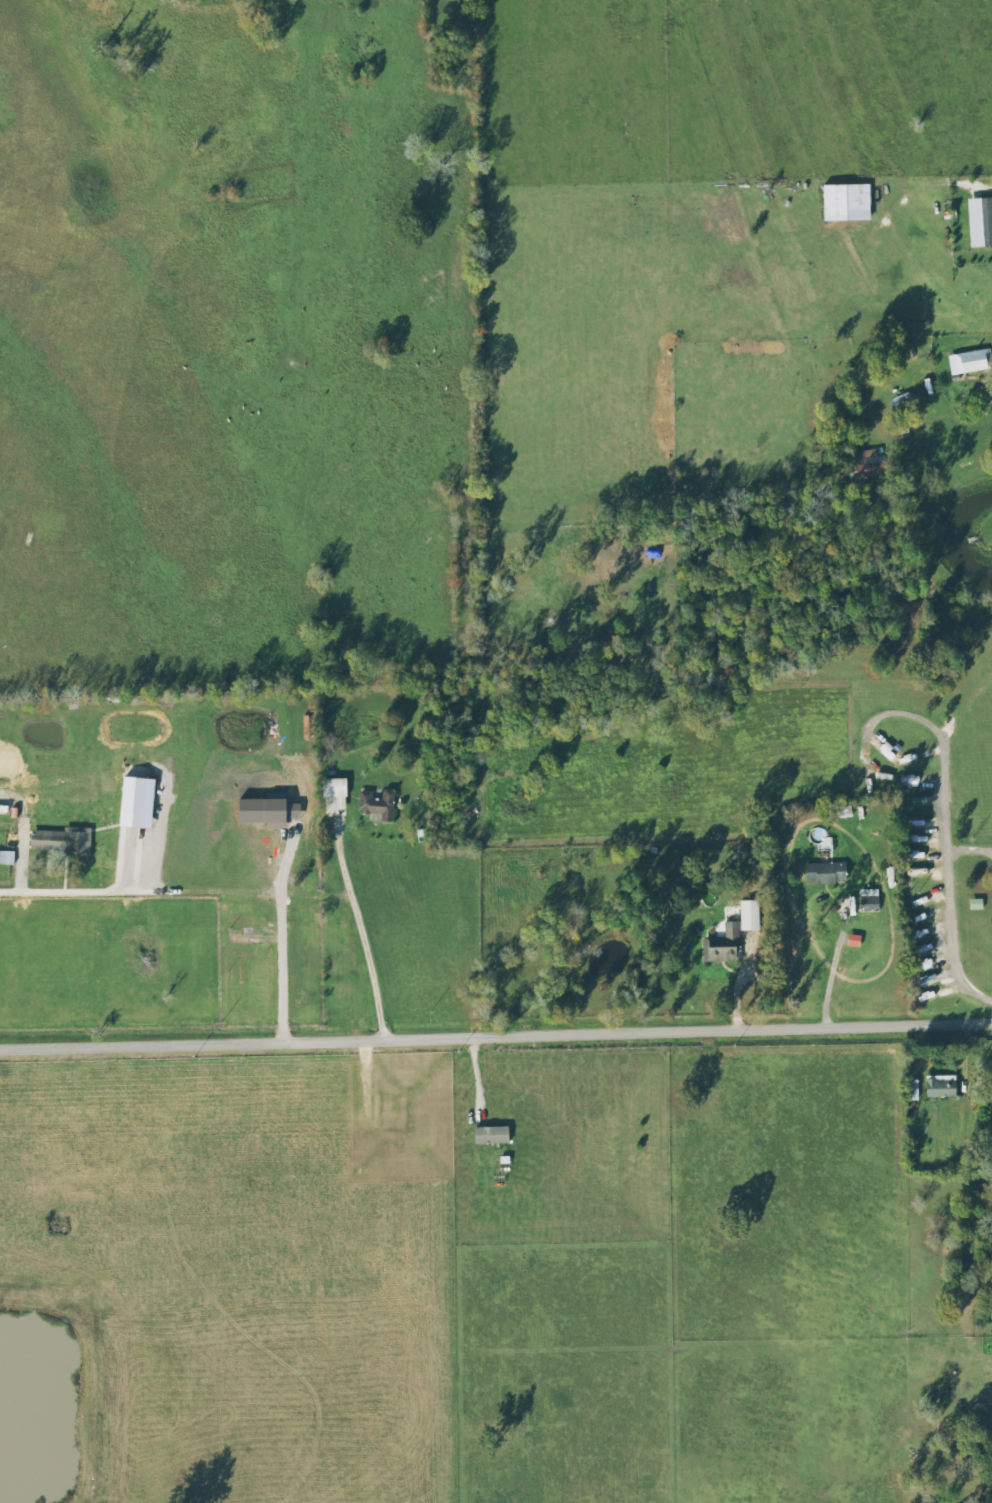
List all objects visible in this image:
building: (985, 223)
building: (972, 363)
building: (865, 468)
building: (376, 805)
building: (7, 860)
building: (823, 875)
road: (78, 892)
road: (961, 916)
building: (730, 937)
road: (359, 940)
building: (851, 942)
road: (496, 1039)
building: (981, 1085)
building: (939, 1088)
road: (713, 1300)
road: (971, 1444)

